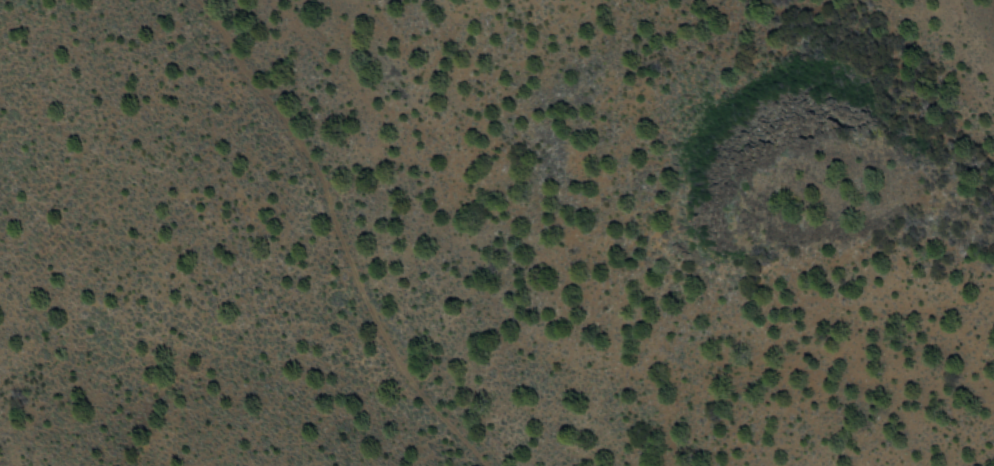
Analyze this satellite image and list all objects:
road: (250, 73)
road: (376, 316)

